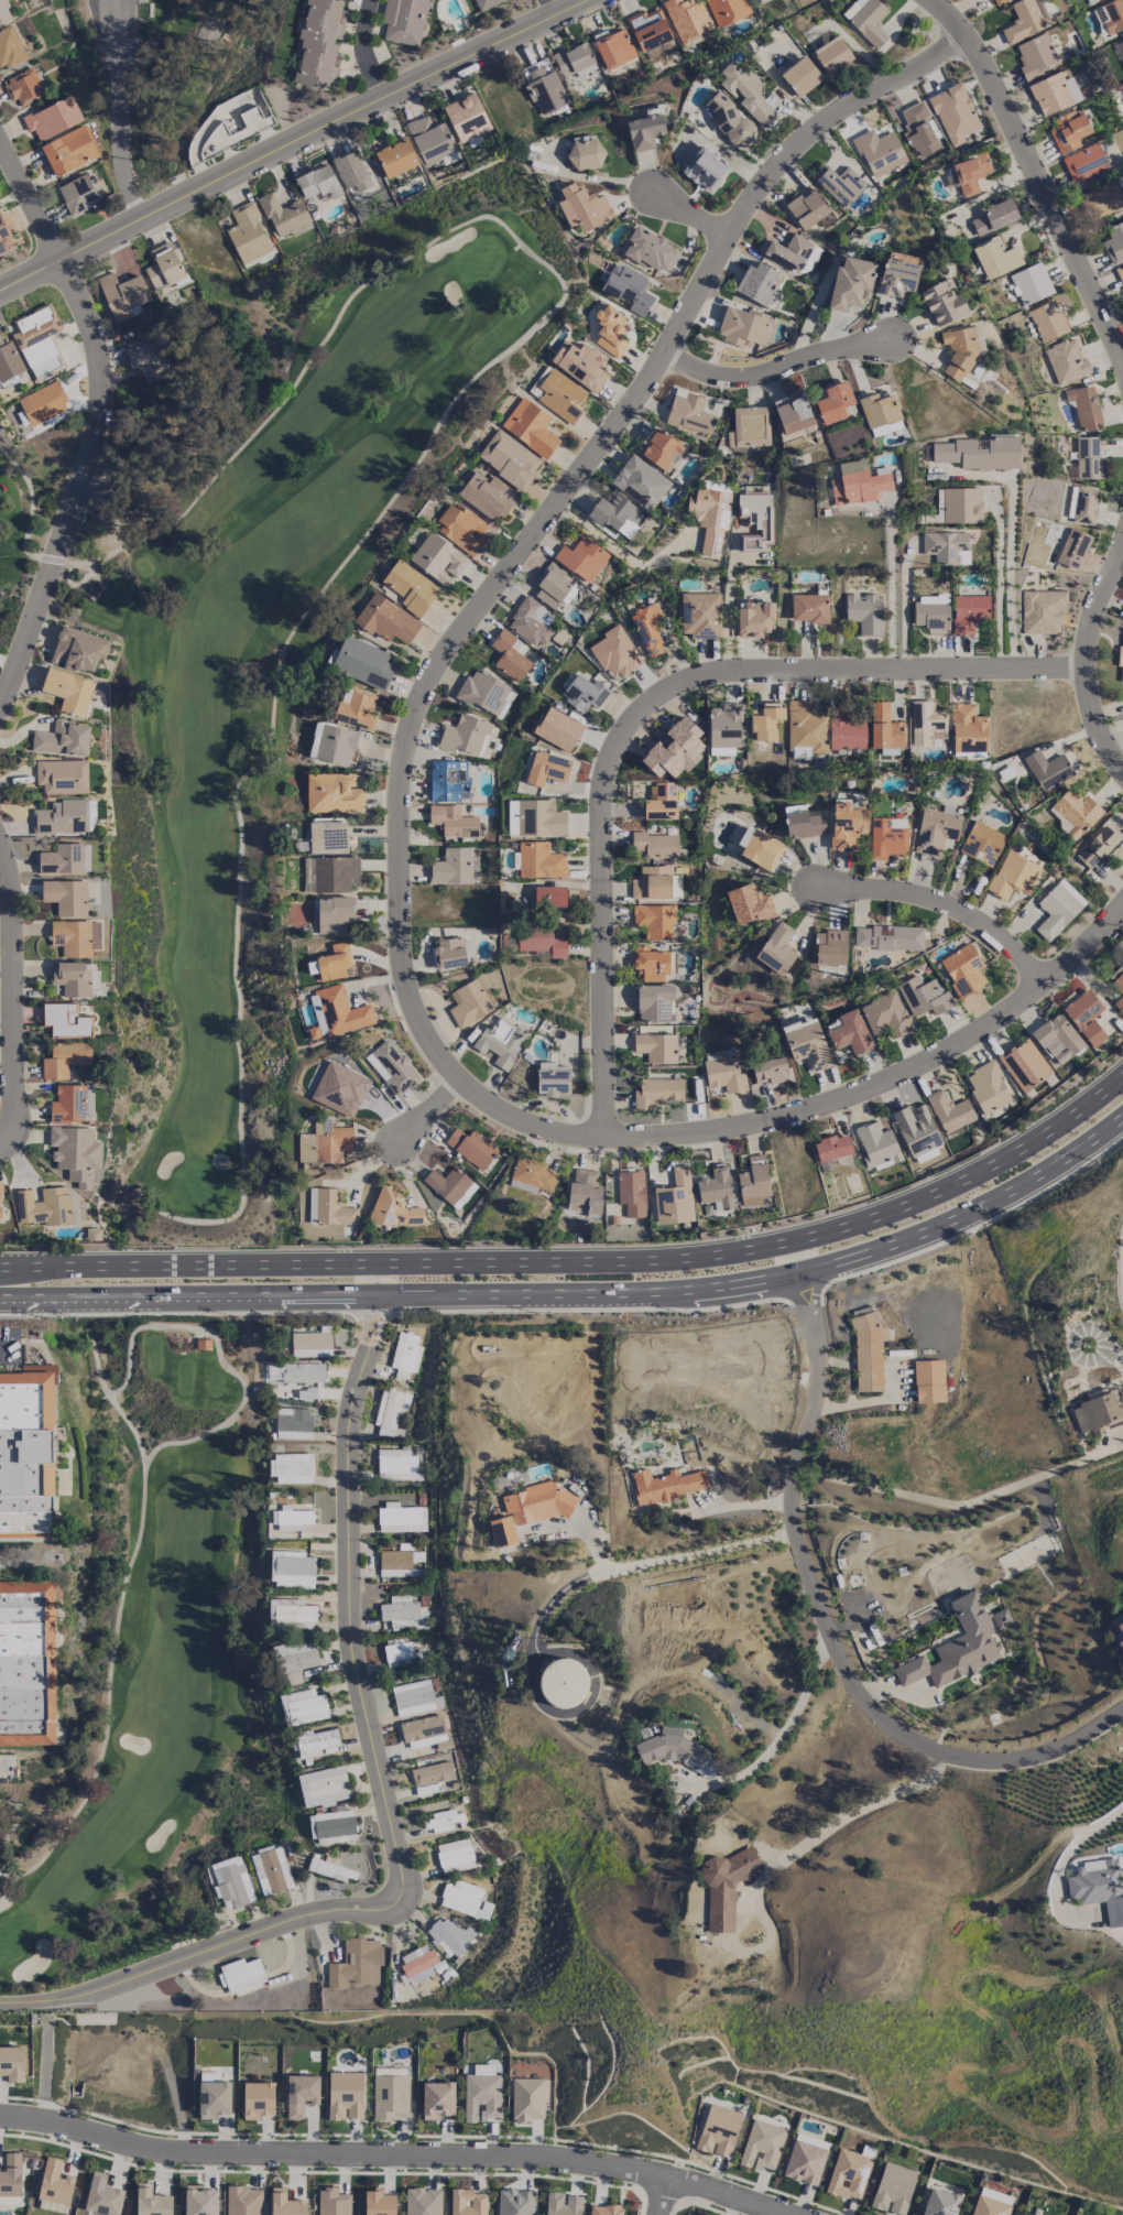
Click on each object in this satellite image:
building: (994, 1)
building: (1091, 1)
building: (484, 3)
road: (553, 6)
building: (727, 10)
building: (4, 12)
building: (1109, 15)
building: (687, 18)
building: (866, 19)
building: (403, 20)
building: (1023, 21)
parking lot: (116, 28)
building: (648, 29)
building: (208, 33)
building: (319, 43)
building: (1121, 44)
road: (364, 46)
building: (9, 47)
building: (614, 48)
building: (832, 54)
building: (1035, 55)
building: (574, 59)
building: (800, 75)
park: (162, 77)
building: (23, 86)
building: (545, 90)
building: (745, 93)
building: (1054, 93)
road: (118, 111)
building: (953, 112)
building: (467, 117)
building: (53, 118)
building: (729, 119)
building: (645, 129)
building: (918, 129)
building: (1069, 129)
road: (288, 139)
building: (430, 139)
building: (69, 151)
building: (879, 151)
building: (586, 154)
building: (395, 156)
building: (1084, 162)
building: (705, 169)
building: (351, 171)
building: (970, 173)
building: (318, 183)
building: (838, 183)
road: (1043, 185)
building: (78, 195)
building: (1101, 199)
building: (584, 207)
building: (809, 209)
building: (283, 215)
road: (690, 216)
building: (994, 216)
building: (248, 234)
building: (4, 239)
building: (1114, 241)
building: (651, 250)
building: (786, 251)
building: (996, 258)
building: (165, 268)
building: (1120, 272)
building: (897, 278)
building: (759, 282)
building: (851, 283)
building: (1031, 283)
building: (628, 287)
building: (122, 294)
building: (942, 303)
building: (1047, 321)
building: (742, 326)
building: (610, 329)
building: (39, 340)
building: (960, 349)
building: (149, 358)
building: (9, 360)
building: (1066, 360)
building: (580, 365)
road: (771, 367)
building: (557, 393)
building: (833, 402)
building: (43, 403)
building: (1084, 406)
building: (879, 409)
building: (793, 413)
building: (689, 414)
road: (95, 421)
building: (530, 426)
building: (749, 426)
building: (886, 427)
building: (659, 447)
building: (979, 452)
building: (1088, 457)
building: (509, 458)
building: (640, 481)
building: (859, 481)
park: (26, 495)
building: (488, 495)
building: (1082, 503)
building: (958, 504)
road: (30, 508)
building: (612, 511)
building: (710, 518)
building: (755, 521)
building: (462, 528)
building: (947, 546)
building: (1070, 547)
road: (619, 550)
building: (581, 557)
building: (438, 558)
road: (1008, 572)
building: (408, 586)
building: (552, 586)
road: (997, 590)
road: (890, 593)
building: (809, 607)
road: (726, 608)
building: (969, 611)
building: (1042, 611)
building: (865, 612)
building: (931, 612)
building: (700, 615)
building: (754, 618)
road: (904, 618)
building: (386, 619)
building: (531, 621)
building: (647, 628)
building: (78, 649)
building: (615, 653)
building: (510, 655)
road: (1080, 656)
building: (1120, 660)
building: (362, 662)
building: (68, 691)
building: (584, 692)
building: (486, 693)
road: (645, 706)
building: (356, 707)
building: (766, 720)
building: (926, 723)
building: (724, 728)
building: (558, 729)
building: (805, 729)
building: (884, 729)
building: (968, 729)
building: (846, 731)
building: (464, 735)
building: (63, 738)
building: (332, 743)
building: (674, 749)
building: (546, 768)
building: (1047, 769)
road: (401, 773)
building: (62, 775)
building: (448, 780)
building: (334, 793)
building: (661, 802)
building: (1073, 812)
building: (62, 817)
building: (536, 818)
building: (453, 821)
building: (804, 823)
building: (847, 825)
building: (935, 829)
building: (327, 836)
building: (887, 836)
building: (982, 843)
building: (1100, 843)
building: (655, 845)
building: (762, 850)
building: (65, 859)
building: (539, 860)
building: (453, 866)
building: (329, 873)
building: (1013, 875)
building: (655, 883)
building: (65, 897)
building: (549, 897)
road: (937, 900)
building: (749, 903)
building: (1058, 908)
building: (334, 914)
building: (655, 920)
building: (888, 936)
building: (72, 937)
building: (541, 941)
road: (1079, 941)
park: (241, 946)
building: (830, 947)
building: (776, 948)
building: (448, 954)
building: (334, 962)
building: (672, 962)
building: (650, 963)
building: (963, 969)
building: (72, 978)
building: (1117, 985)
road: (12, 991)
building: (924, 996)
building: (469, 1002)
building: (654, 1002)
building: (337, 1011)
building: (885, 1014)
building: (1084, 1016)
building: (65, 1020)
building: (850, 1032)
building: (1057, 1038)
building: (500, 1041)
building: (807, 1043)
building: (656, 1047)
building: (65, 1058)
building: (1024, 1064)
building: (392, 1066)
building: (723, 1071)
building: (770, 1071)
building: (553, 1078)
building: (988, 1087)
building: (656, 1092)
building: (73, 1104)
road: (426, 1110)
building: (950, 1111)
building: (916, 1129)
building: (324, 1142)
building: (876, 1145)
building: (471, 1147)
building: (832, 1147)
building: (77, 1154)
building: (531, 1175)
building: (754, 1181)
building: (448, 1183)
building: (716, 1188)
building: (0, 1190)
building: (585, 1192)
building: (631, 1192)
building: (675, 1198)
building: (43, 1206)
building: (329, 1207)
building: (393, 1208)
road: (977, 1221)
road: (584, 1259)
road: (1121, 1260)
road: (770, 1279)
road: (804, 1293)
road: (189, 1296)
road: (589, 1307)
road: (177, 1312)
road: (373, 1314)
building: (312, 1343)
road: (3, 1349)
building: (868, 1351)
building: (405, 1354)
building: (294, 1372)
building: (929, 1380)
building: (390, 1410)
building: (1095, 1411)
building: (293, 1423)
building: (28, 1455)
building: (396, 1464)
building: (292, 1467)
building: (666, 1485)
road: (962, 1503)
road: (734, 1505)
building: (530, 1509)
building: (291, 1518)
building: (401, 1518)
road: (640, 1565)
building: (291, 1568)
road: (348, 1598)
building: (404, 1613)
building: (291, 1614)
building: (1000, 1618)
building: (1120, 1627)
road: (831, 1628)
building: (1121, 1643)
building: (956, 1647)
road: (111, 1650)
building: (400, 1652)
building: (294, 1660)
building: (28, 1663)
building: (564, 1683)
storage tank: (564, 1683)
building: (414, 1697)
building: (303, 1706)
road: (782, 1730)
building: (315, 1741)
building: (667, 1746)
building: (706, 1765)
building: (430, 1777)
building: (324, 1785)
building: (443, 1820)
building: (332, 1826)
road: (828, 1826)
building: (455, 1855)
road: (1065, 1860)
building: (329, 1868)
building: (271, 1870)
building: (232, 1881)
building: (726, 1886)
building: (1098, 1887)
building: (465, 1899)
building: (450, 1936)
road: (200, 1948)
building: (417, 1963)
building: (357, 1964)
building: (241, 1974)
building: (12, 2063)
road: (44, 2071)
building: (390, 2093)
building: (482, 2093)
building: (301, 2094)
building: (345, 2095)
building: (527, 2098)
building: (214, 2099)
building: (258, 2099)
building: (437, 2099)
building: (718, 2130)
building: (811, 2140)
building: (762, 2146)
road: (390, 2153)
building: (804, 2162)
building: (849, 2173)
building: (11, 2175)
building: (54, 2182)
building: (893, 2187)
building: (995, 2194)
building: (102, 2195)
road: (658, 2195)
building: (199, 2200)
building: (152, 2201)
building: (243, 2201)
building: (423, 2201)
building: (379, 2202)
building: (468, 2202)
building: (514, 2202)
building: (285, 2203)
building: (940, 2203)
building: (561, 2204)
building: (990, 2206)
building: (604, 2209)

